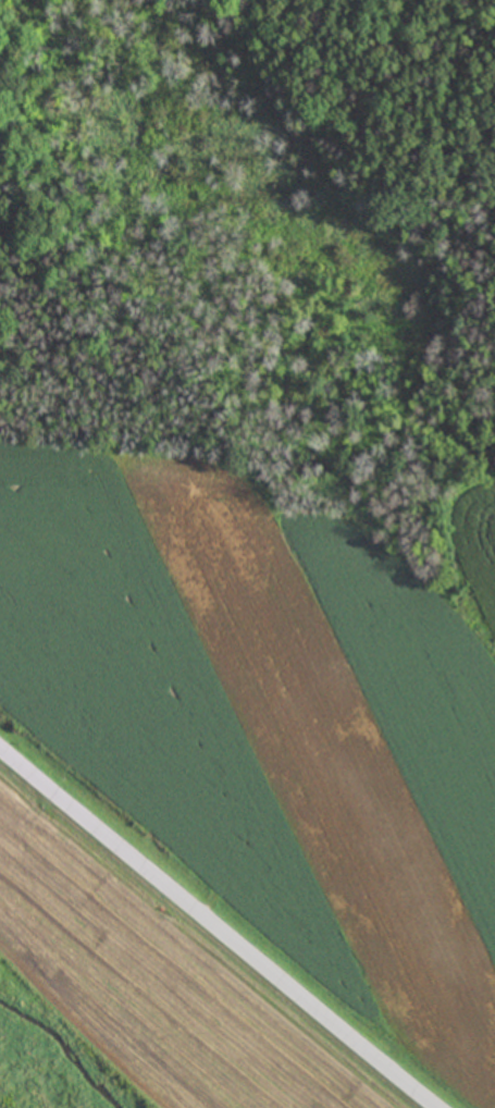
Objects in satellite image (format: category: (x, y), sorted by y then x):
road: (218, 928)

